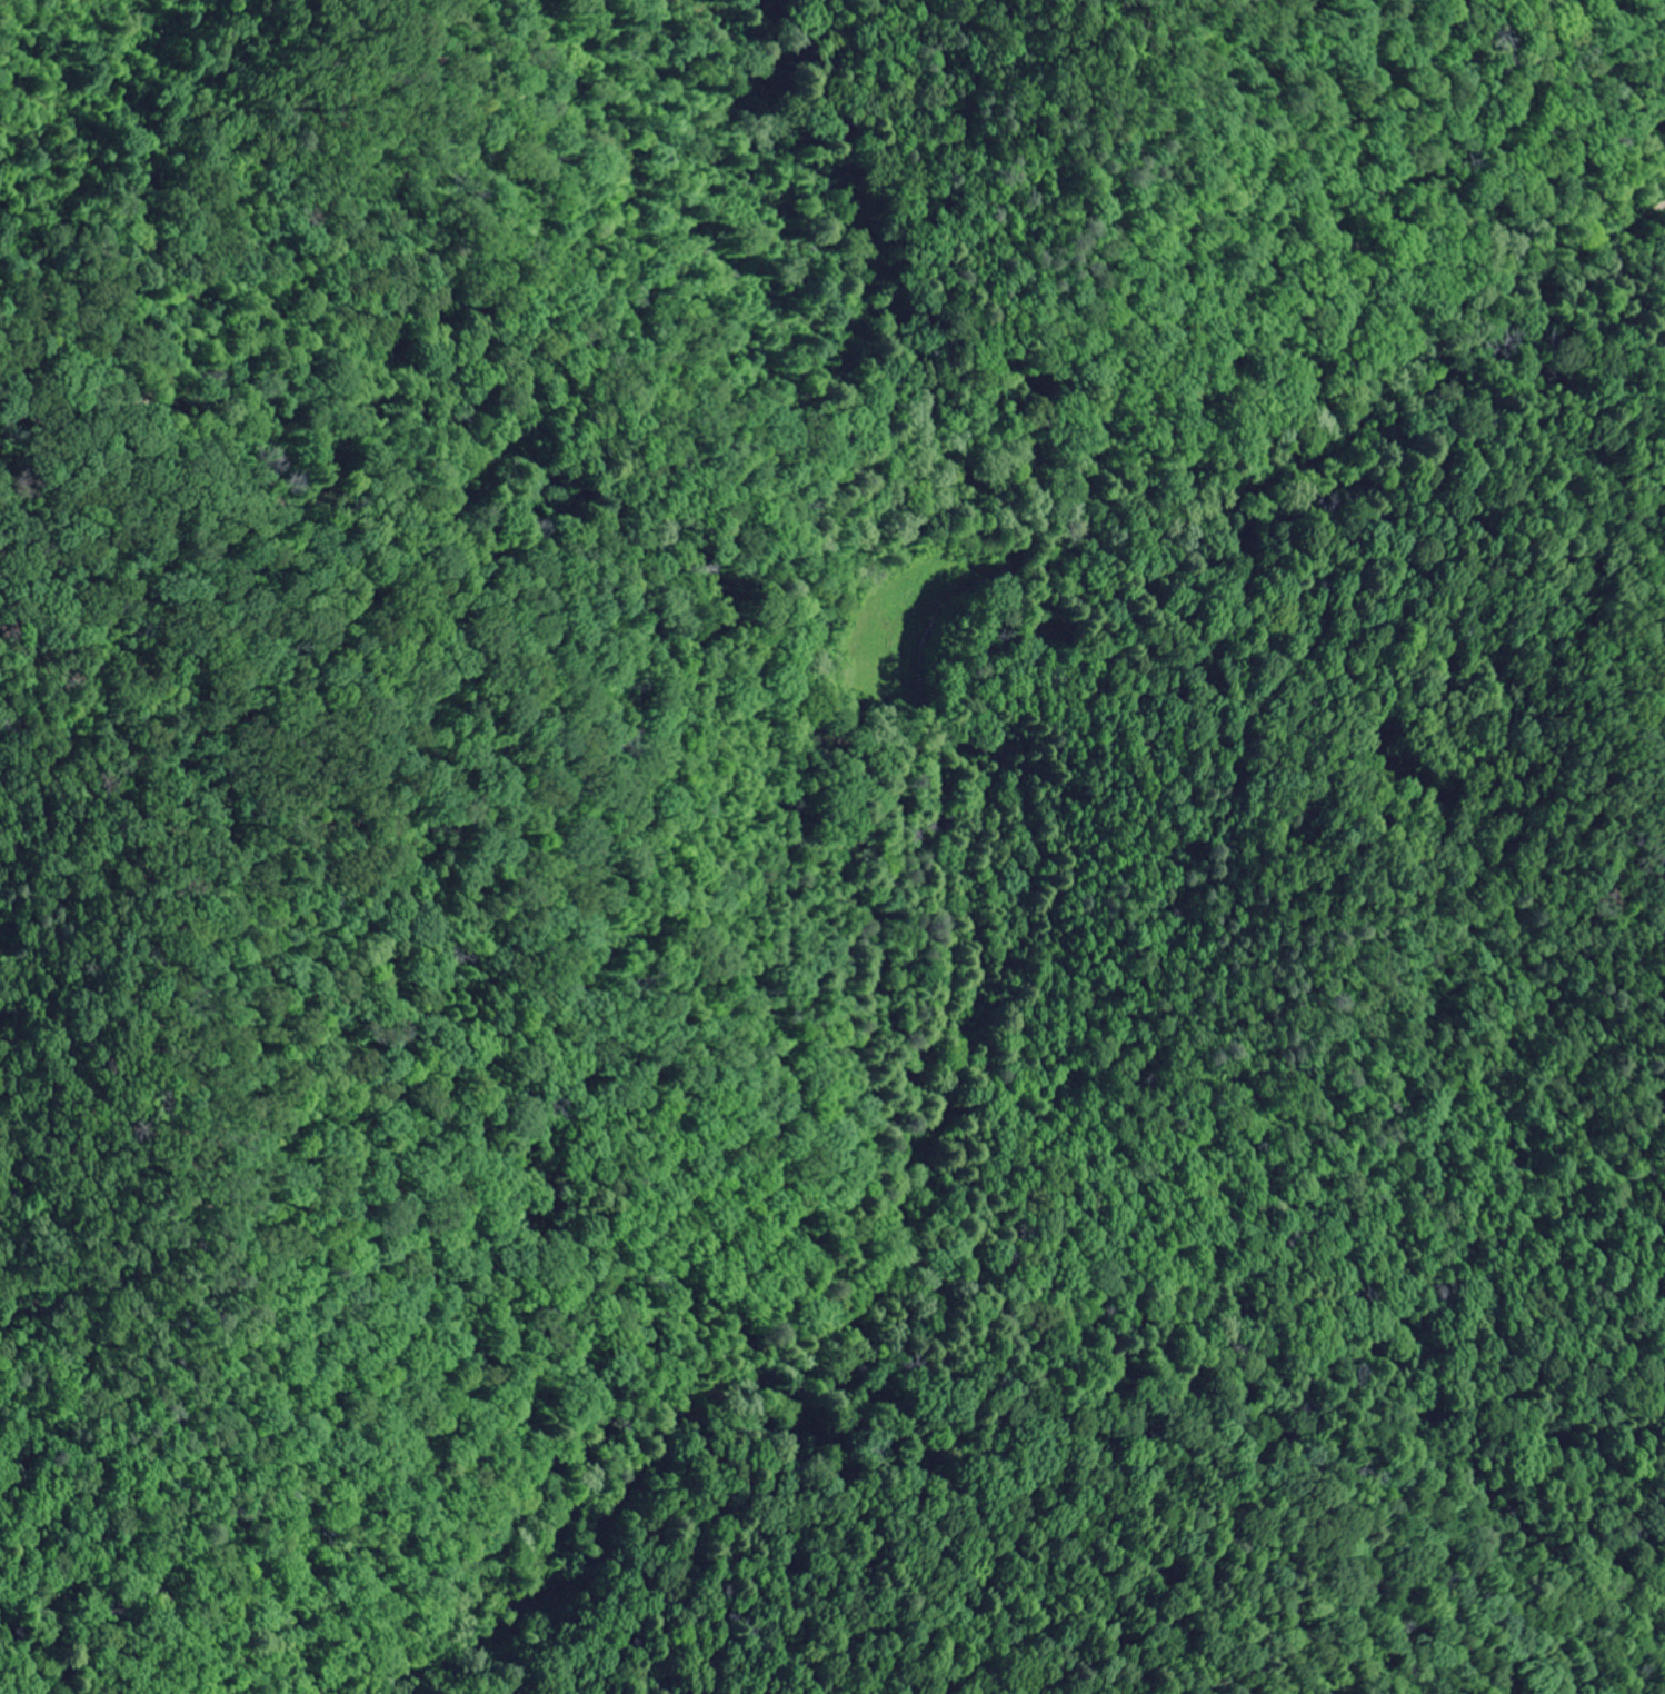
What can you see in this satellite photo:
road: (1651, 249)
road: (1244, 495)
road: (856, 1336)

